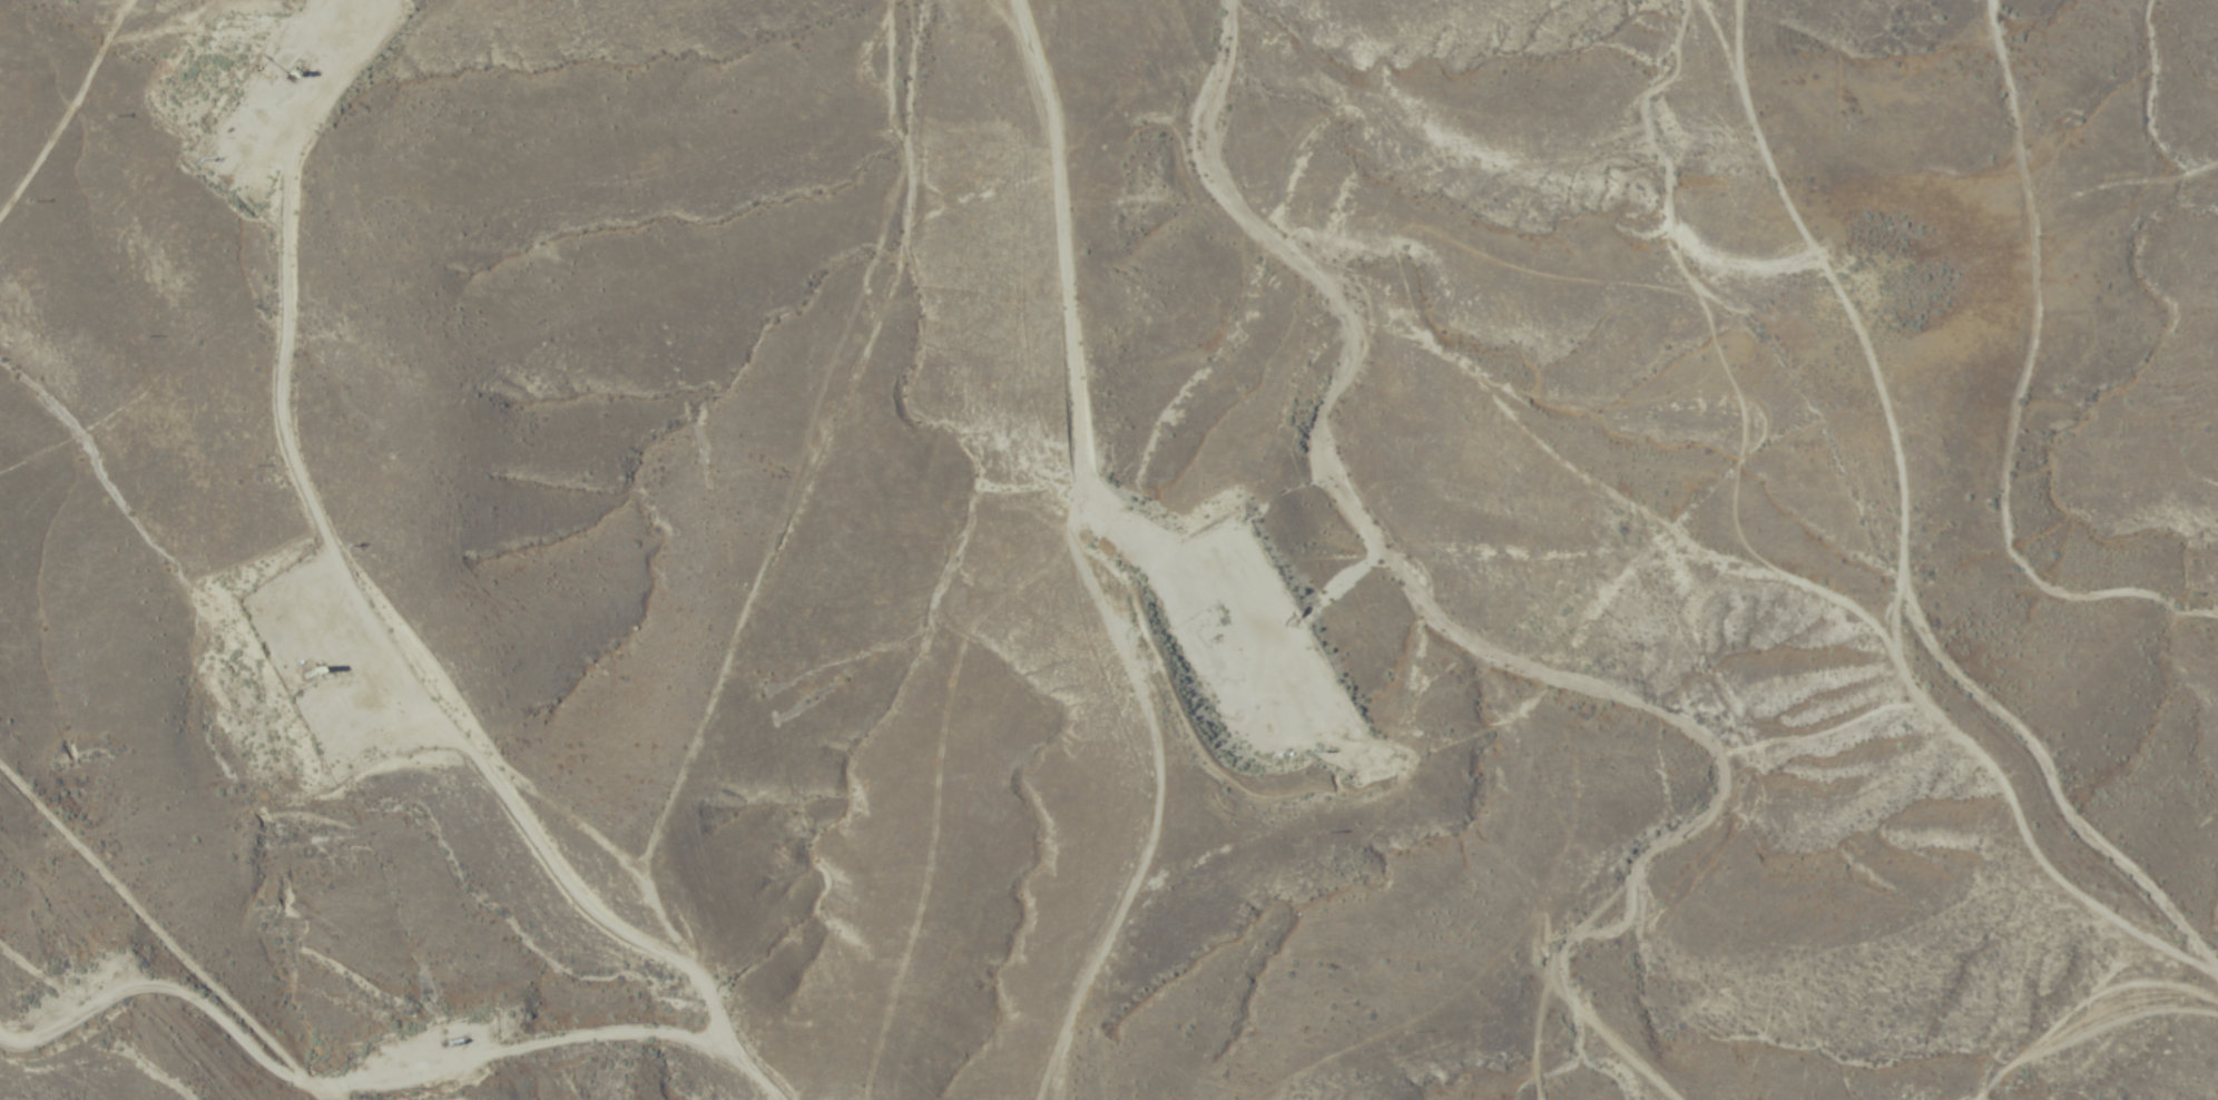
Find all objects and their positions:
road: (35, 1077)

